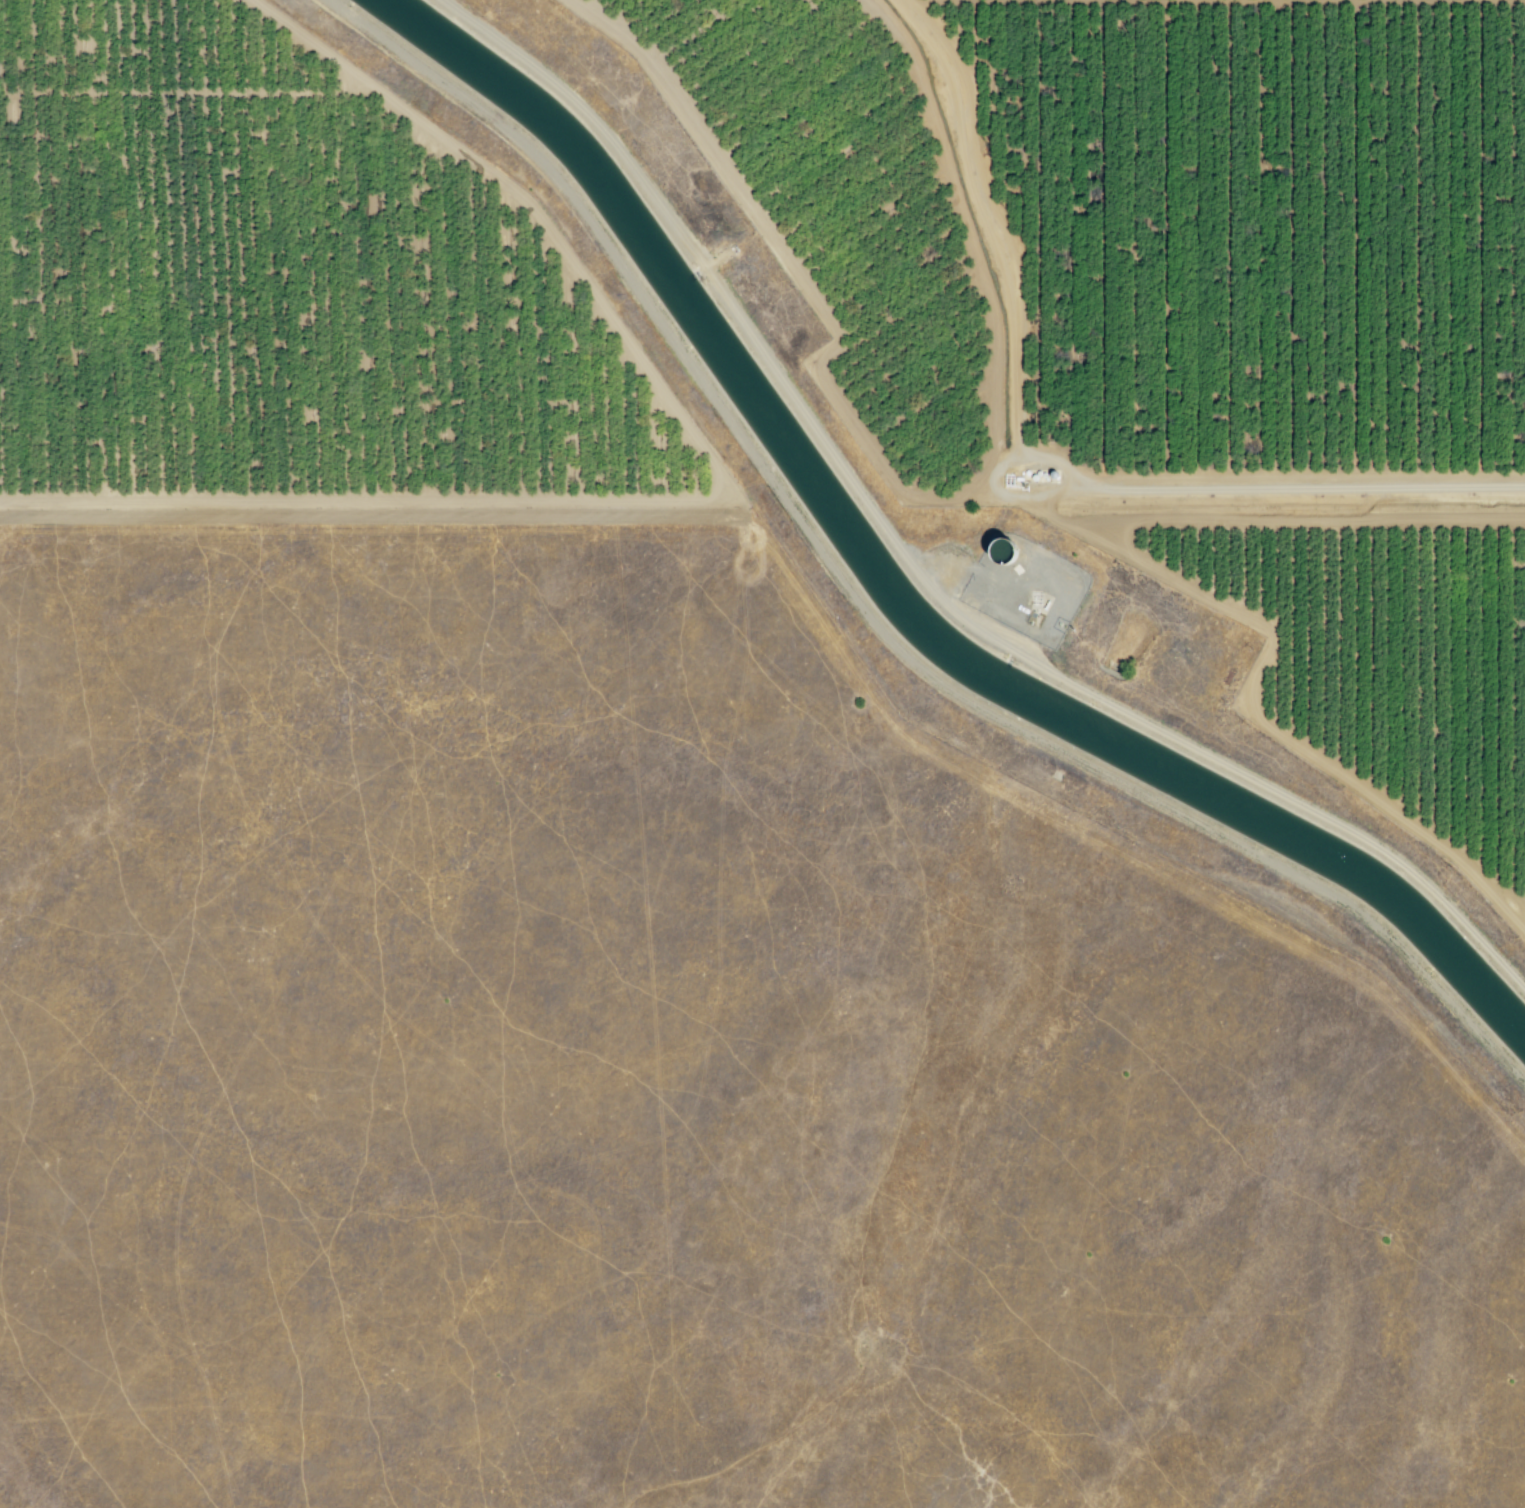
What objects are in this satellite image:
road: (186, 92)
road: (983, 219)
road: (968, 232)
road: (792, 267)
road: (1048, 459)
road: (1269, 487)
road: (712, 500)
road: (390, 520)
road: (1302, 520)
road: (1254, 680)

